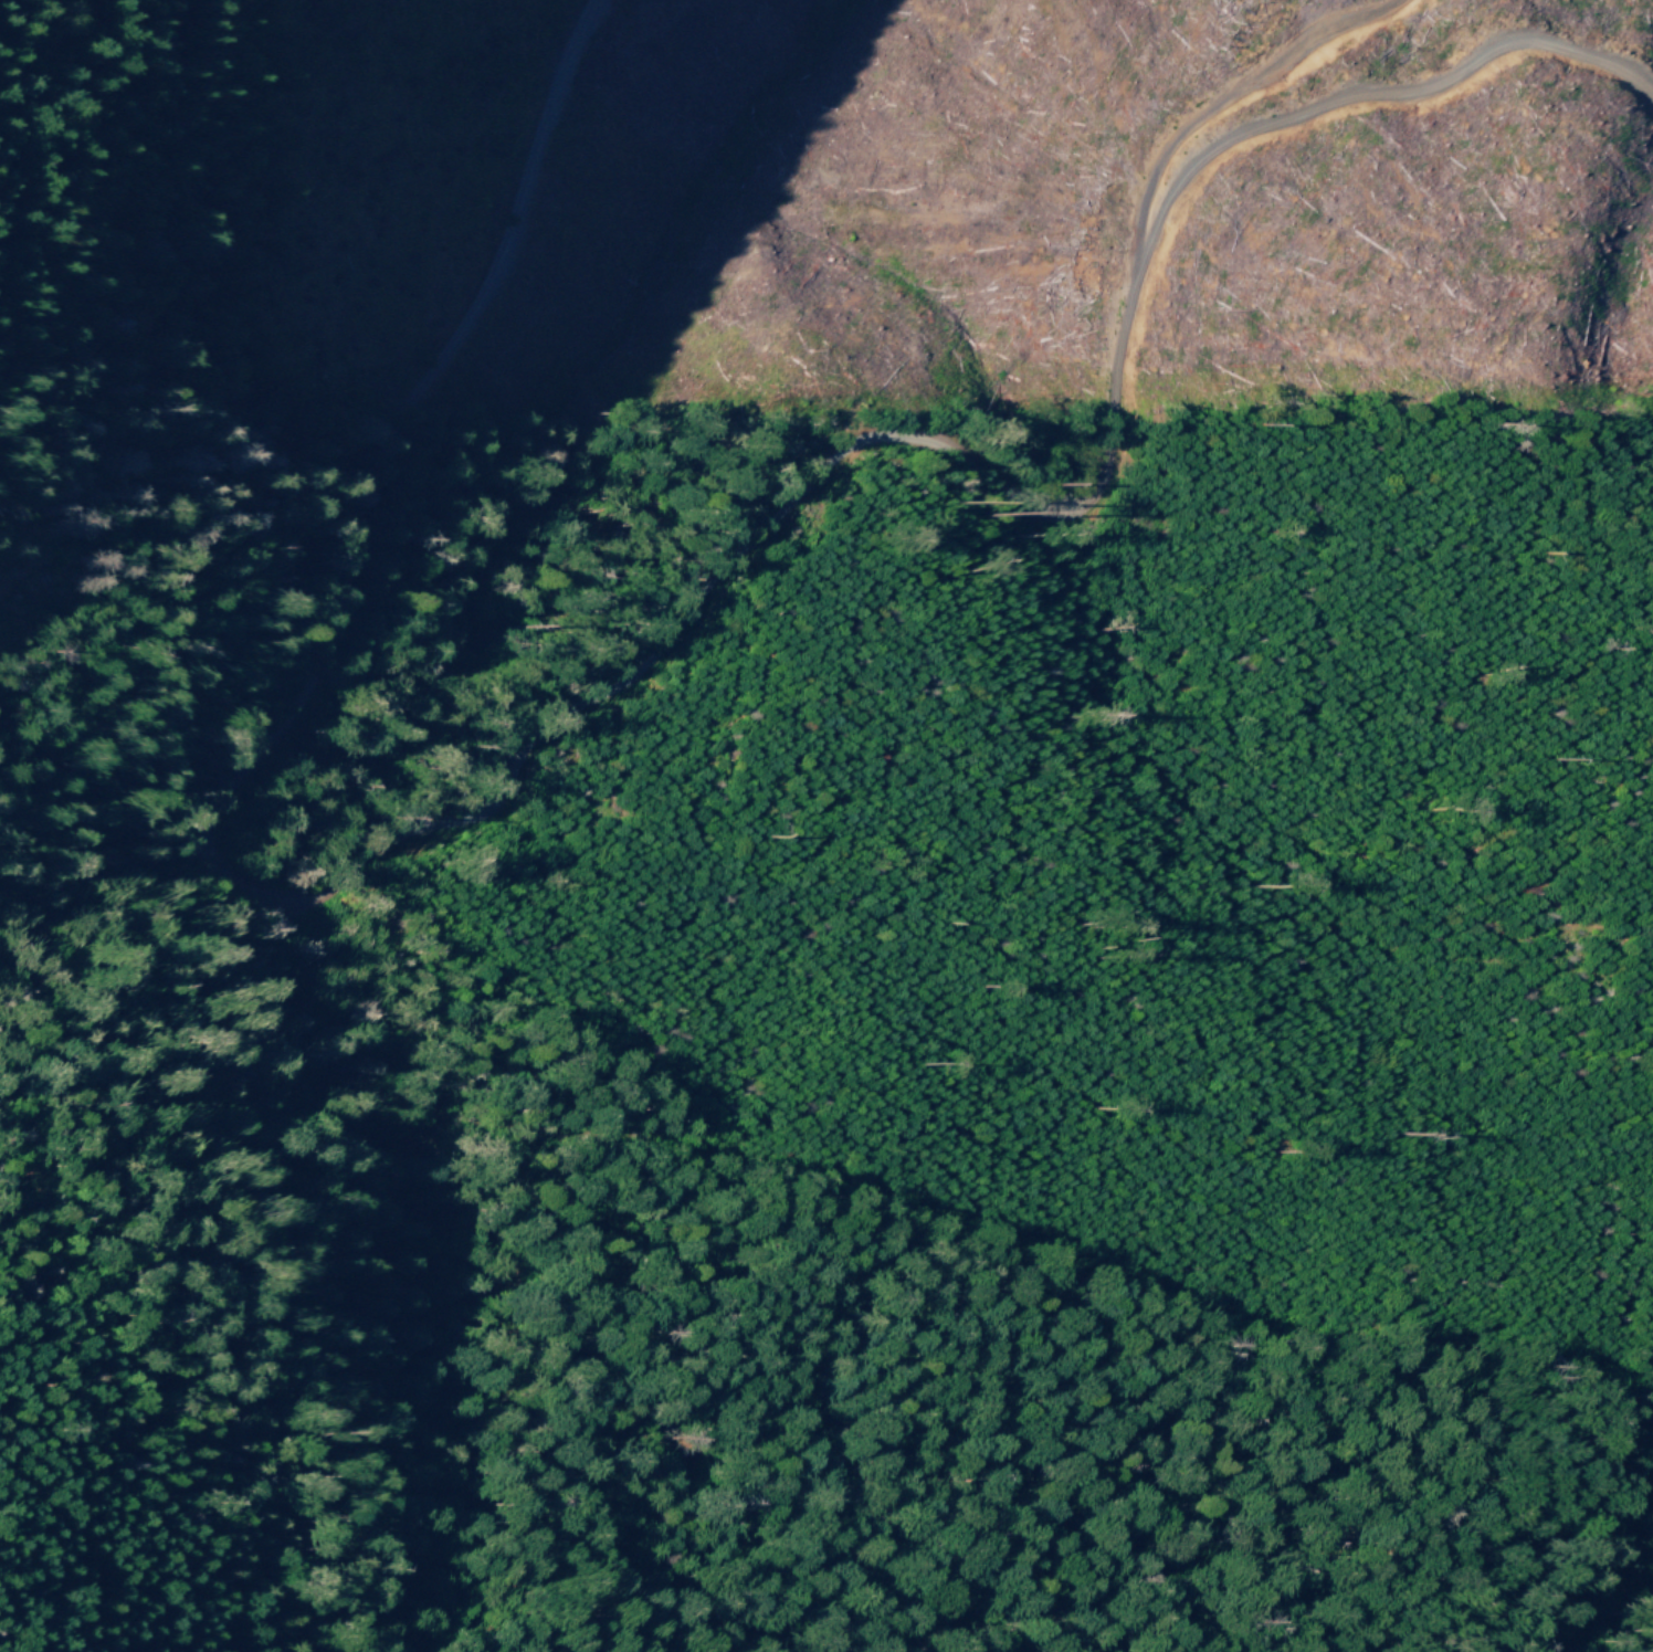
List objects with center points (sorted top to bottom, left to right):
road: (594, 693)
road: (1625, 1535)

